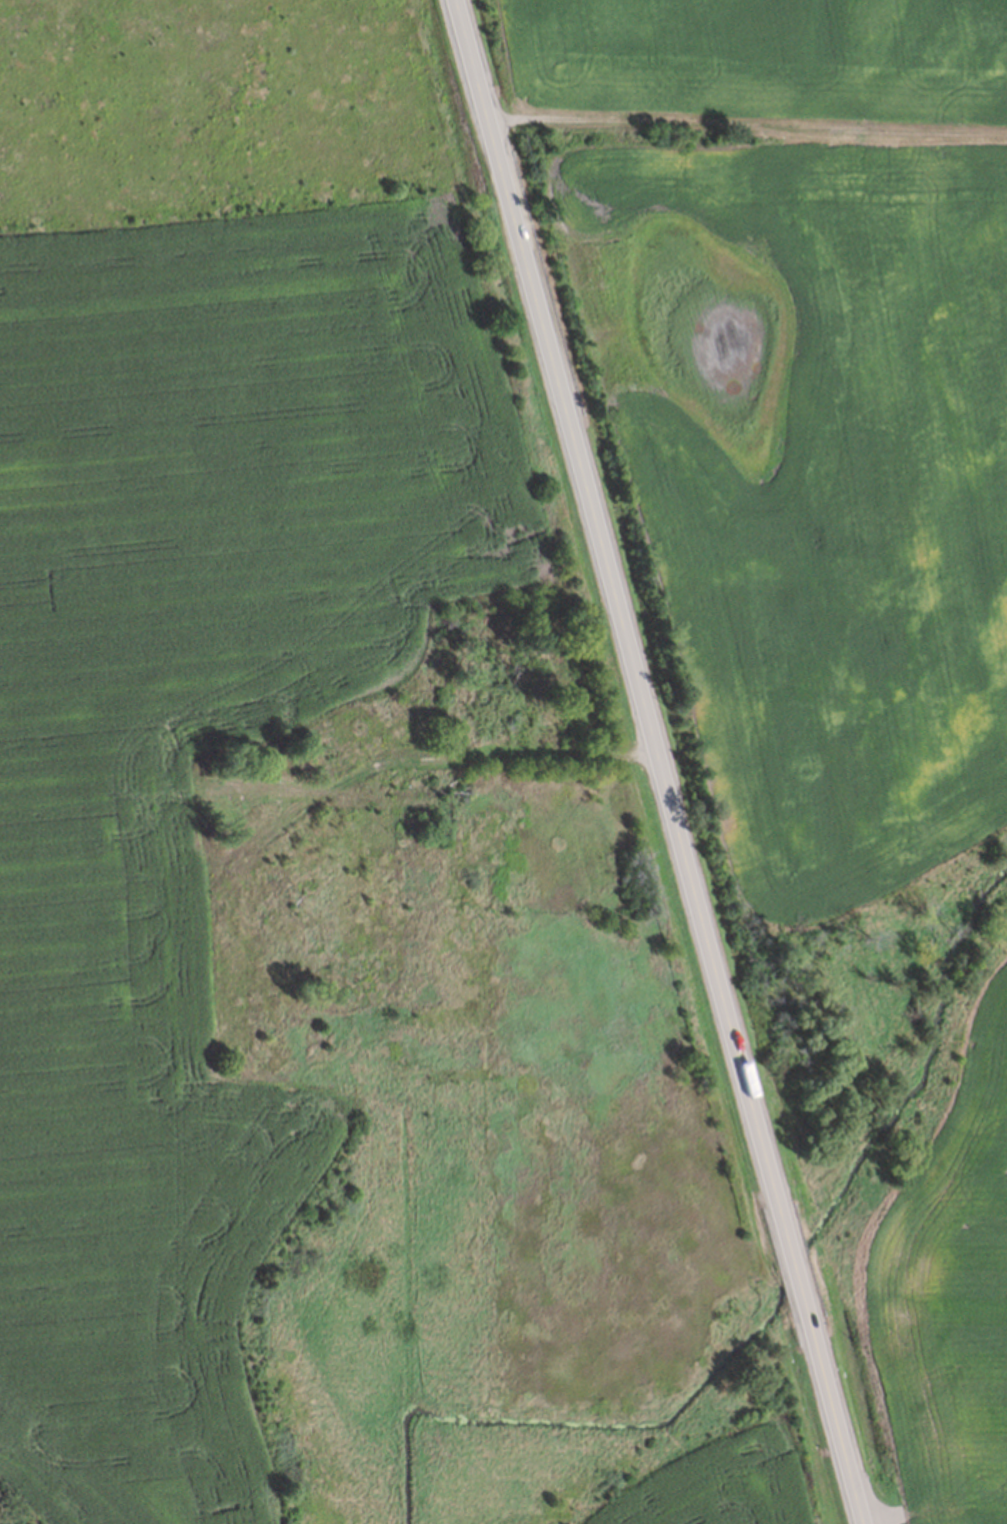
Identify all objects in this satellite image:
road: (747, 126)
road: (427, 756)
road: (659, 762)

